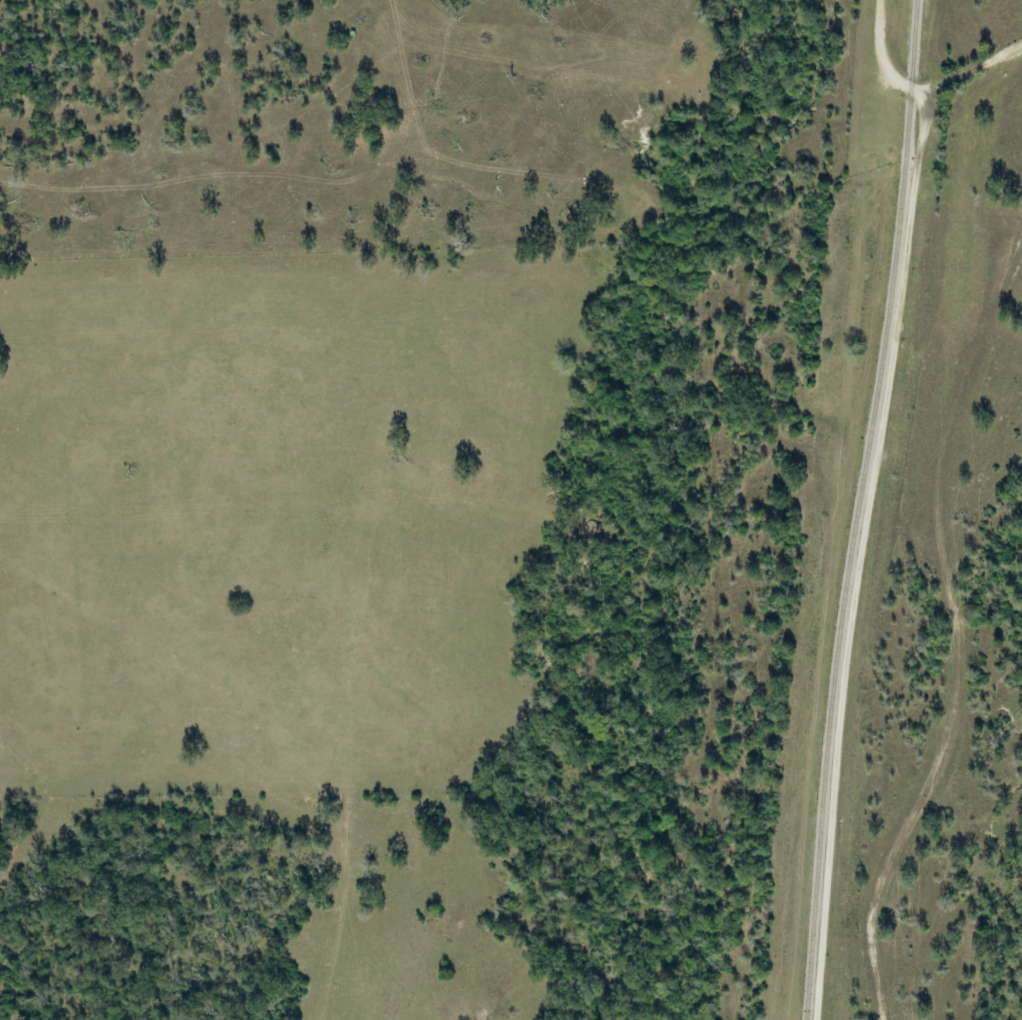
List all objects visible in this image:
road: (881, 22)
road: (973, 71)
road: (890, 78)
railway: (881, 366)
railway: (855, 387)
road: (857, 554)
railway: (818, 875)

